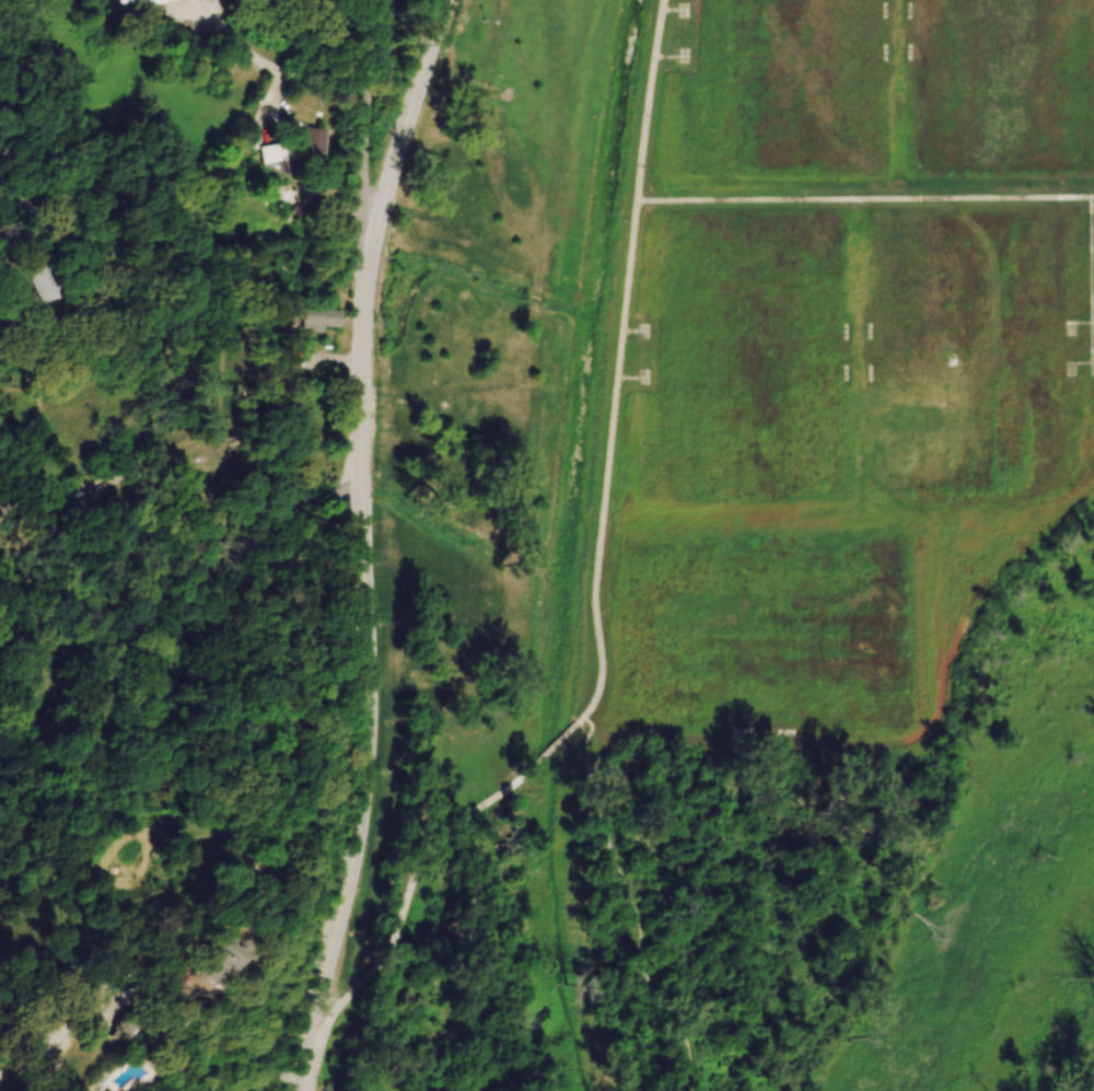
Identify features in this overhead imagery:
road: (233, 38)
park: (1008, 82)
park: (787, 83)
road: (362, 125)
building: (300, 151)
road: (203, 191)
road: (1092, 198)
road: (863, 199)
road: (43, 213)
building: (53, 286)
road: (1090, 287)
building: (95, 311)
building: (319, 320)
park: (967, 352)
park: (747, 355)
road: (618, 365)
road: (181, 536)
road: (364, 543)
park: (736, 557)
park: (765, 634)
road: (550, 748)
road: (635, 905)
road: (401, 917)
road: (30, 1056)

